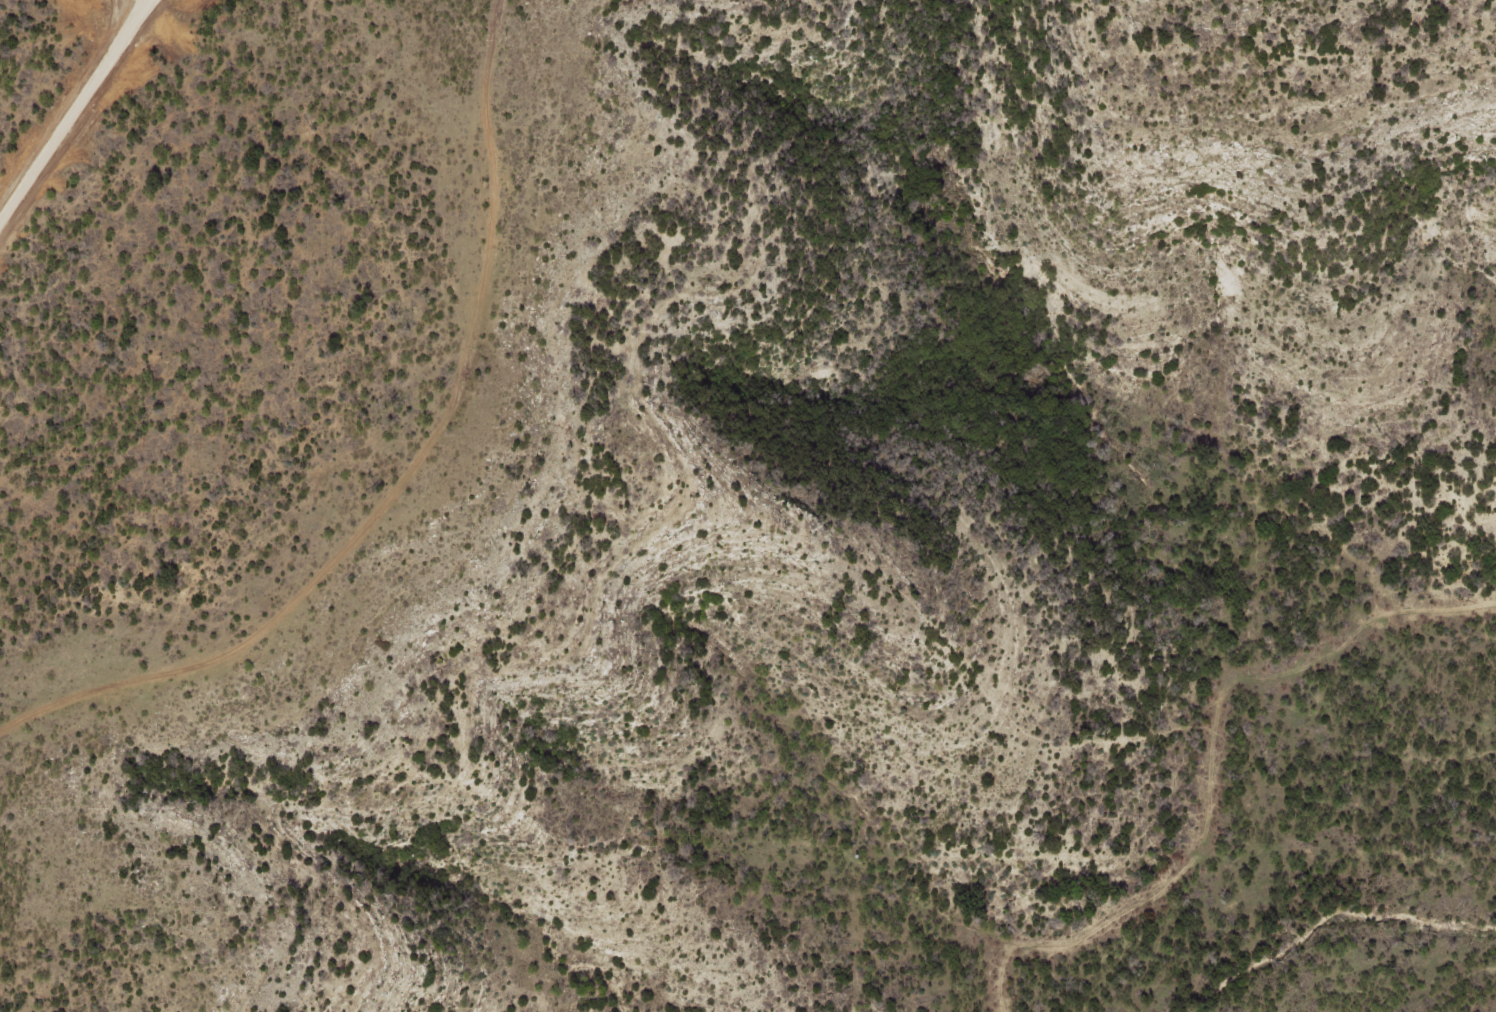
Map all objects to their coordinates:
road: (396, 485)

